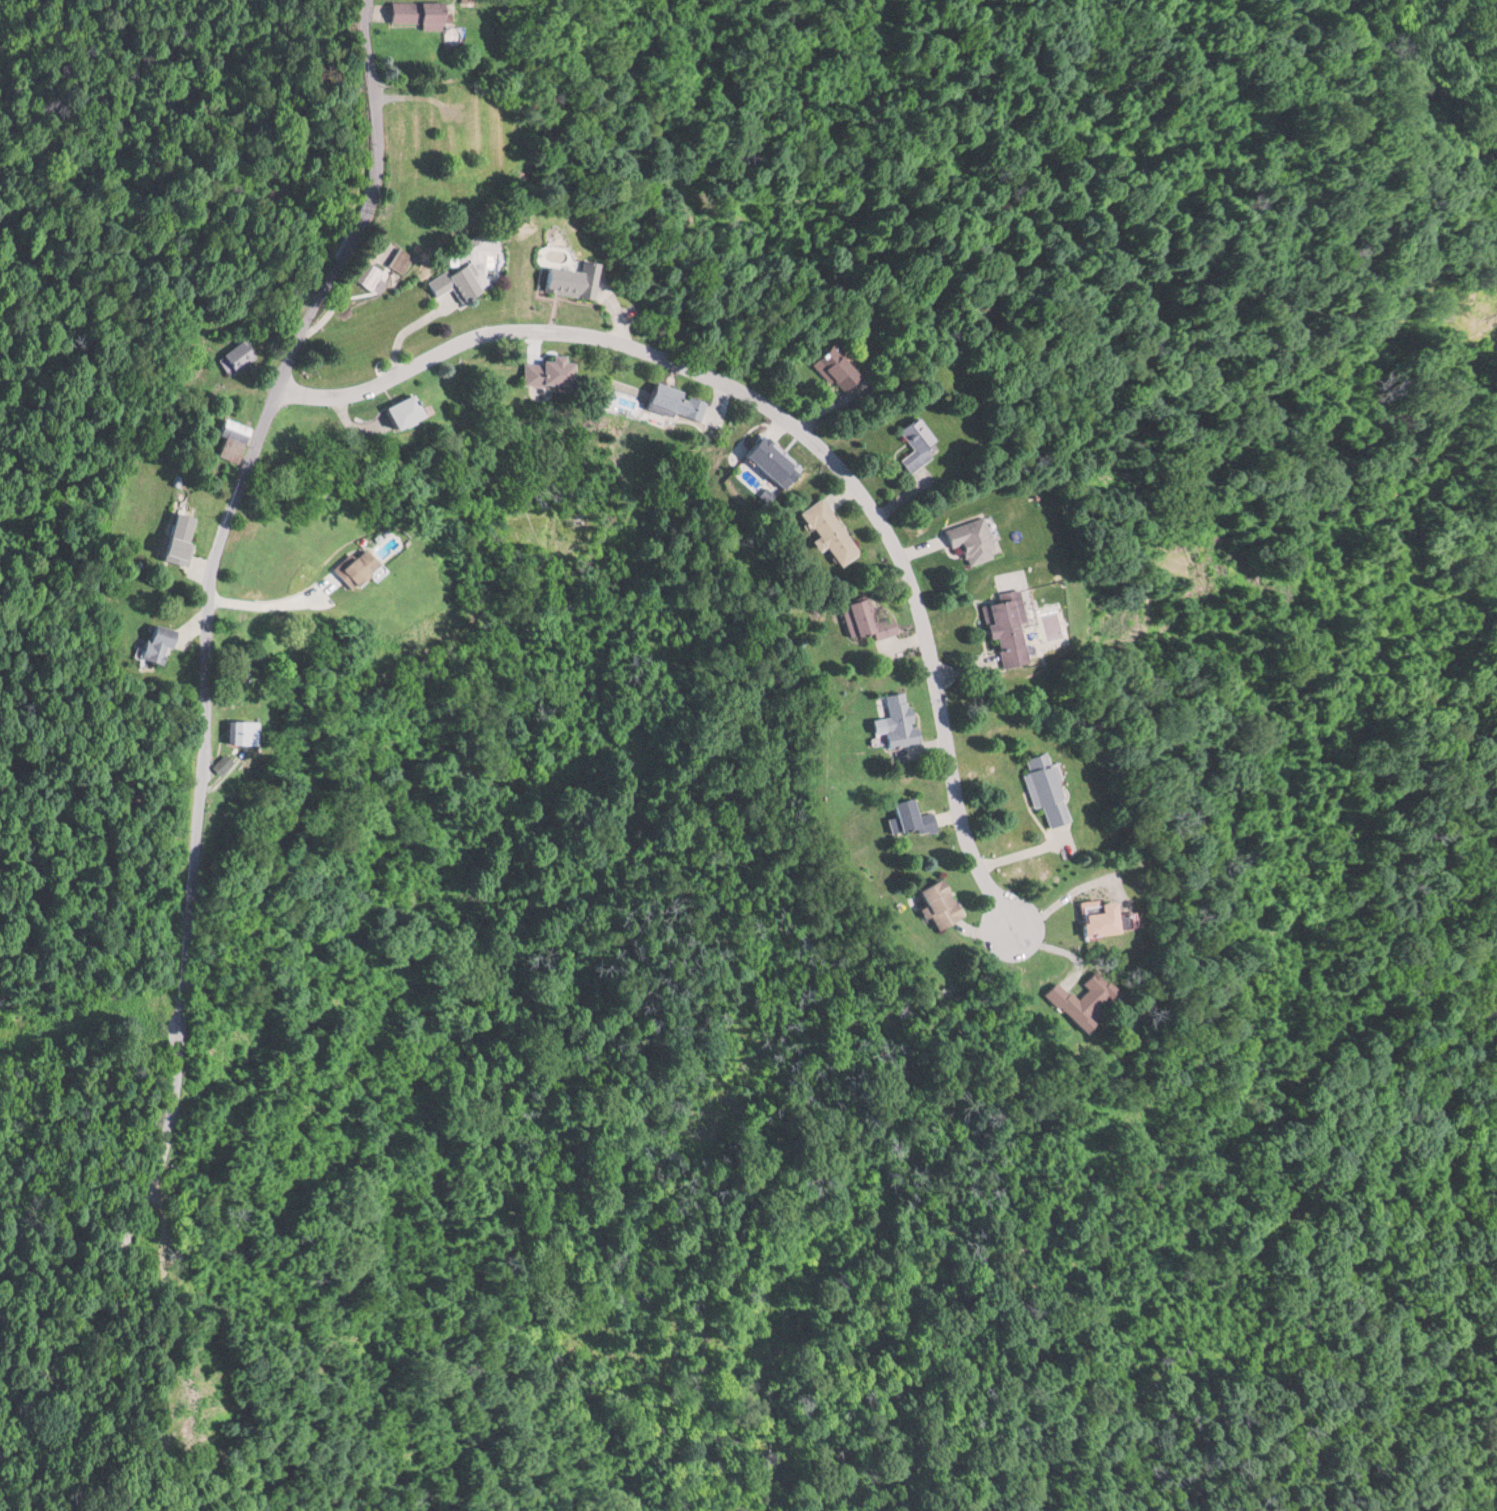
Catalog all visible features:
building: (414, 13)
building: (451, 91)
building: (410, 130)
road: (379, 207)
building: (381, 270)
building: (565, 279)
building: (450, 280)
building: (834, 367)
building: (541, 372)
building: (670, 403)
building: (393, 411)
road: (800, 426)
building: (239, 440)
building: (914, 443)
building: (764, 459)
building: (825, 530)
building: (186, 537)
building: (965, 540)
building: (350, 567)
building: (864, 620)
building: (1002, 626)
building: (169, 642)
building: (894, 718)
building: (257, 731)
building: (234, 762)
building: (1040, 786)
building: (908, 816)
building: (934, 902)
building: (1089, 918)
road: (188, 927)
building: (1073, 998)

